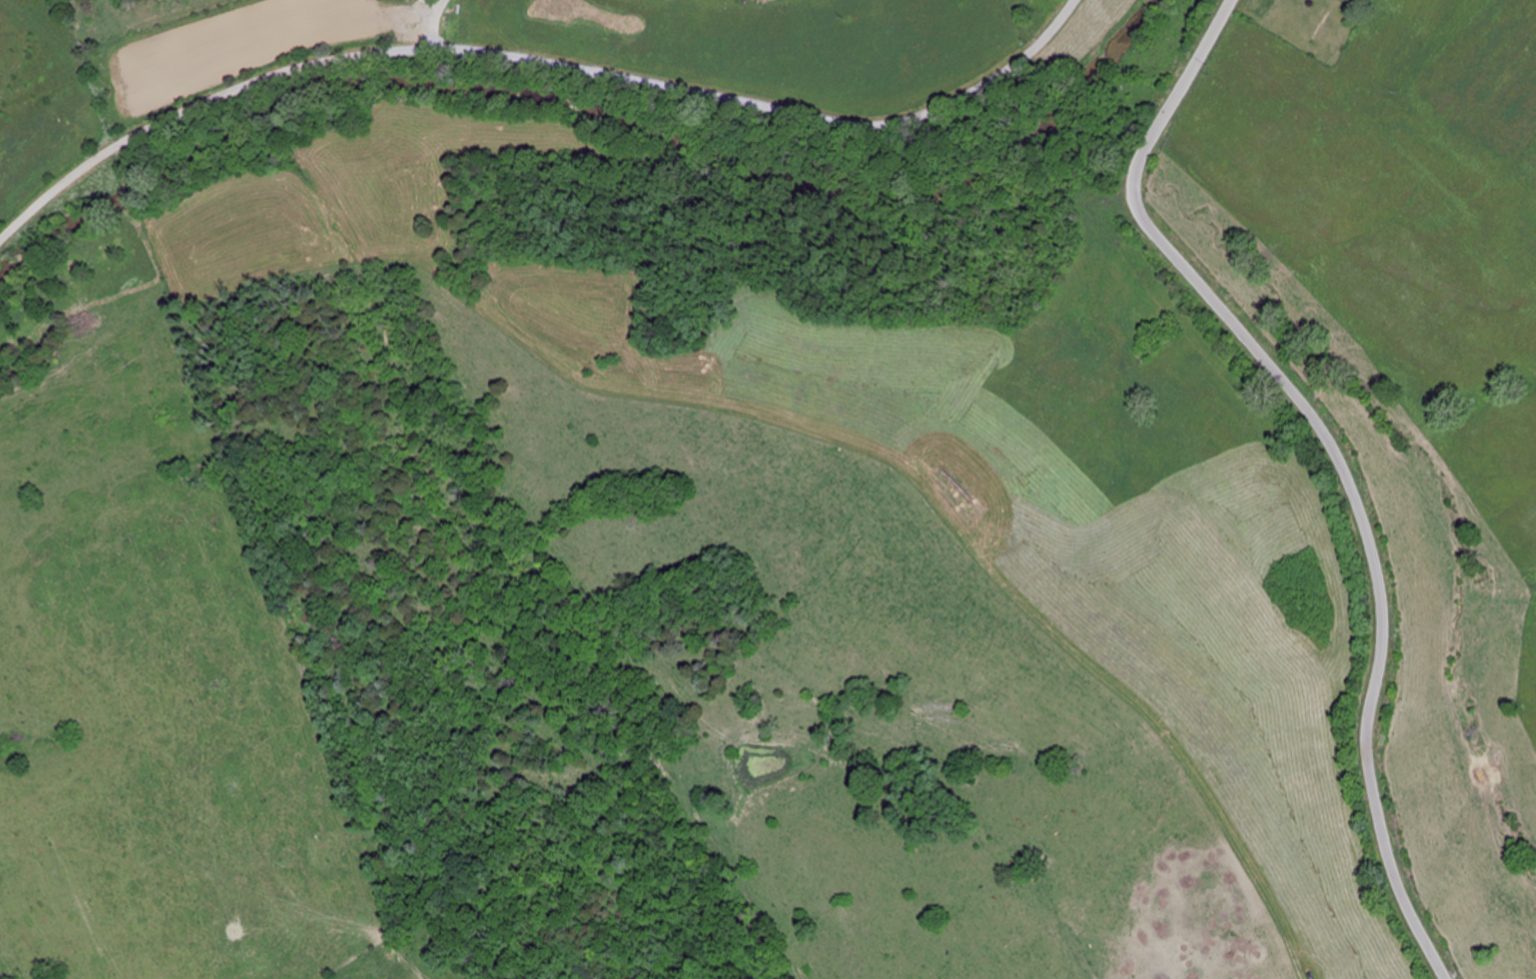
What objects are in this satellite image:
building: (410, 24)
road: (535, 60)
road: (1335, 454)
building: (948, 489)

